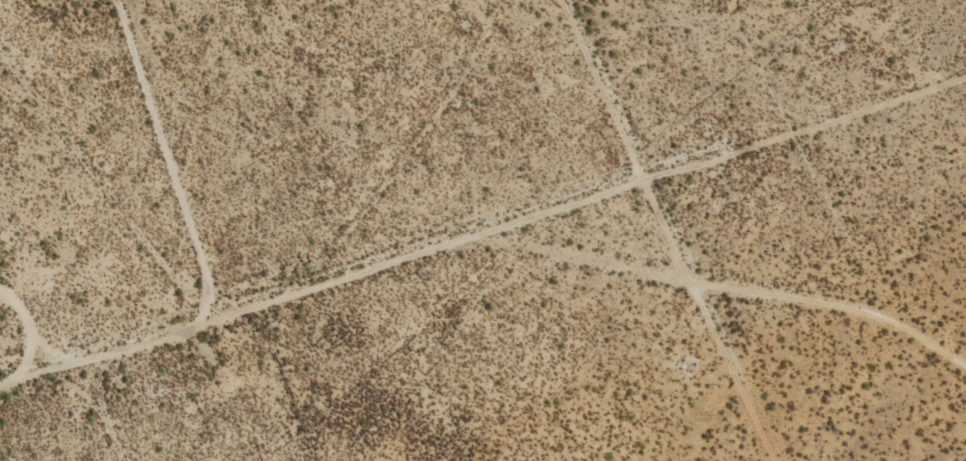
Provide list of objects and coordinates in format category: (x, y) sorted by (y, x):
road: (605, 230)
road: (477, 306)
road: (68, 427)

